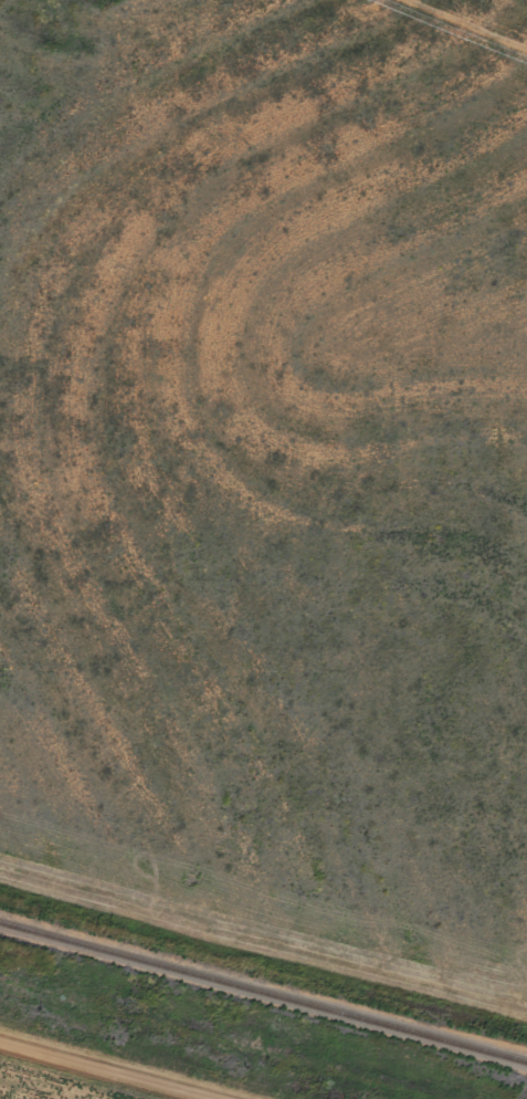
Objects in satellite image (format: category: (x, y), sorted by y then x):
railway: (263, 1003)
road: (109, 1069)
airport: (0, 1098)

